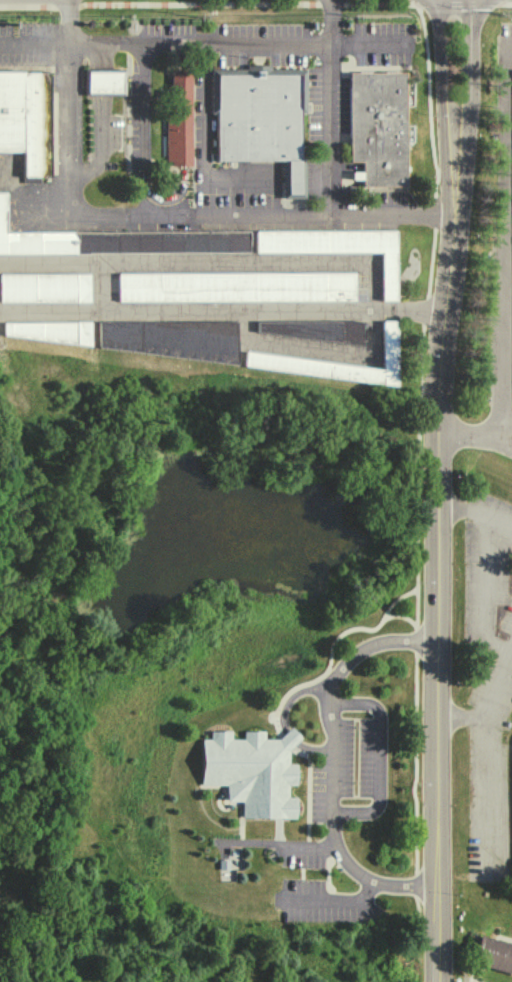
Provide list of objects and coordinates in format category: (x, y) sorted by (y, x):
road: (56, 44)
road: (84, 44)
road: (121, 44)
road: (151, 44)
road: (370, 45)
road: (329, 107)
building: (180, 117)
building: (26, 118)
building: (262, 118)
building: (377, 127)
road: (205, 145)
road: (292, 178)
road: (316, 178)
road: (36, 196)
road: (178, 213)
building: (118, 240)
road: (505, 246)
building: (337, 247)
building: (235, 286)
building: (45, 287)
road: (222, 308)
building: (46, 331)
building: (387, 341)
road: (475, 438)
road: (436, 490)
road: (475, 514)
road: (482, 596)
road: (400, 618)
road: (293, 689)
road: (290, 695)
road: (464, 715)
road: (288, 736)
road: (417, 743)
road: (310, 747)
road: (492, 753)
road: (377, 756)
road: (329, 760)
building: (250, 770)
building: (493, 954)

